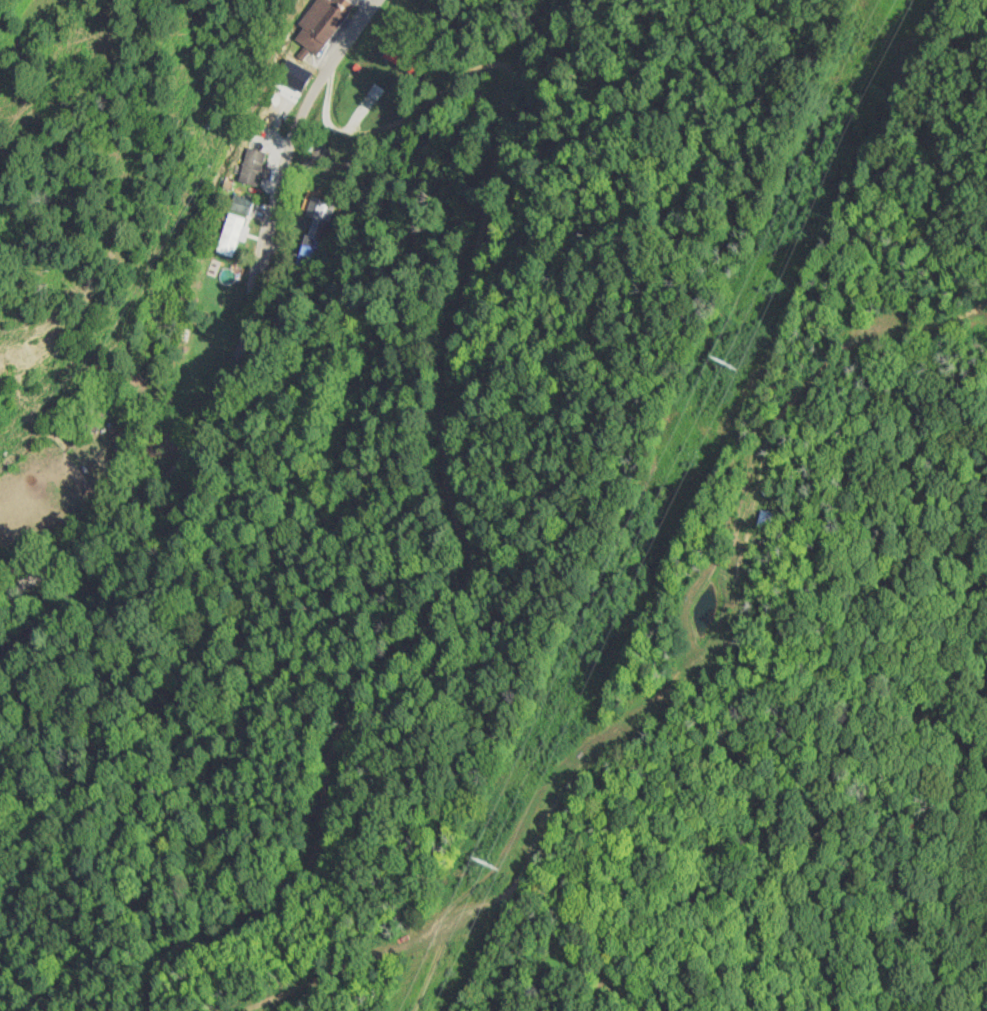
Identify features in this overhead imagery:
building: (321, 24)
building: (283, 96)
building: (322, 219)
building: (234, 228)
road: (240, 336)
power tower: (718, 363)
power tower: (479, 859)

